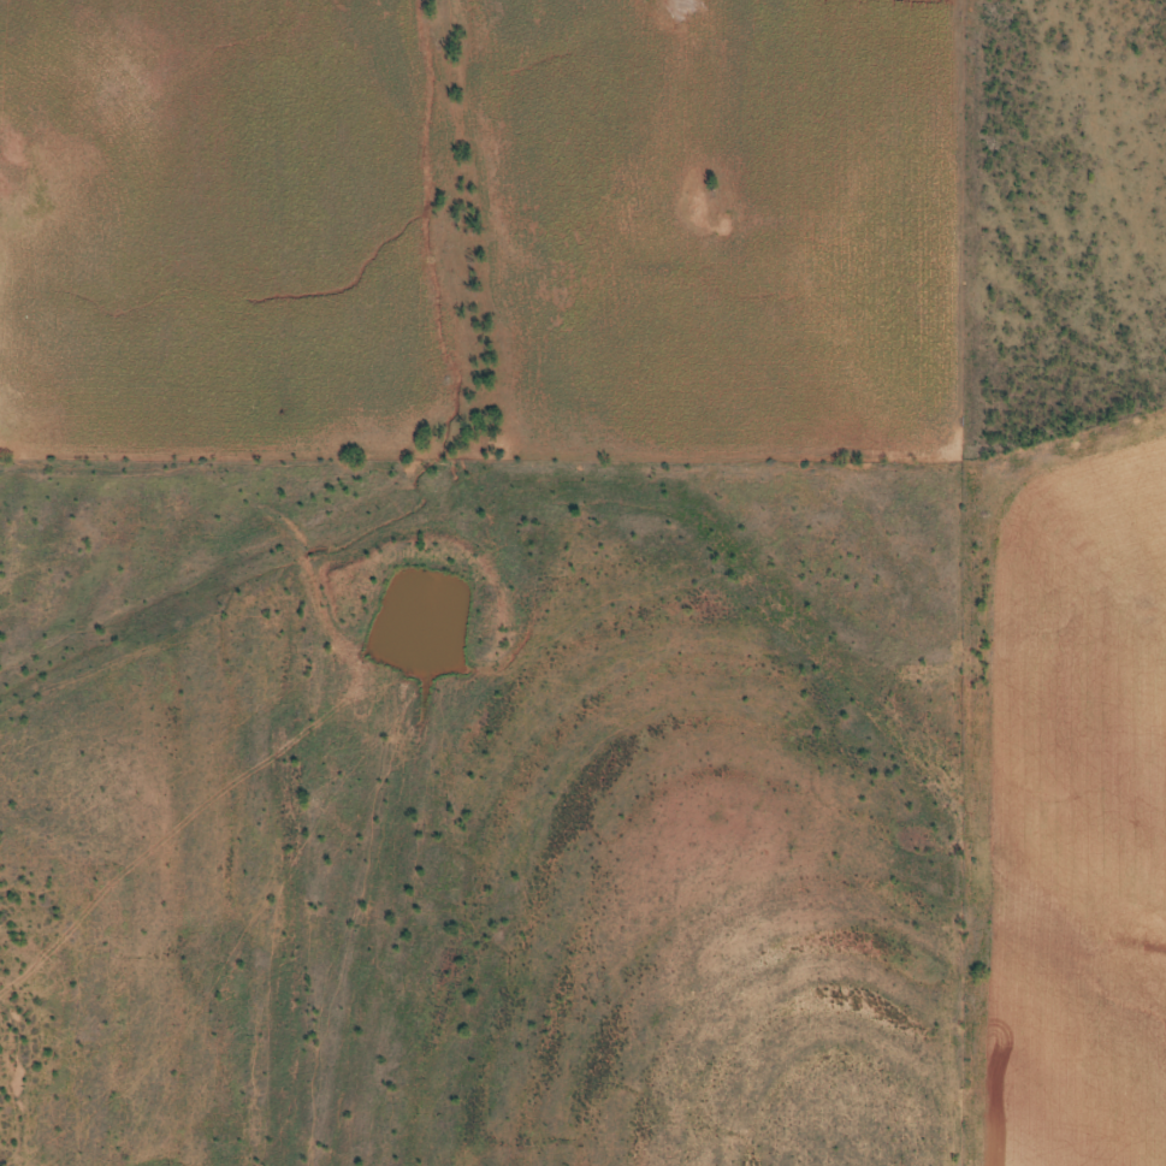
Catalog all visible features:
road: (912, 180)

